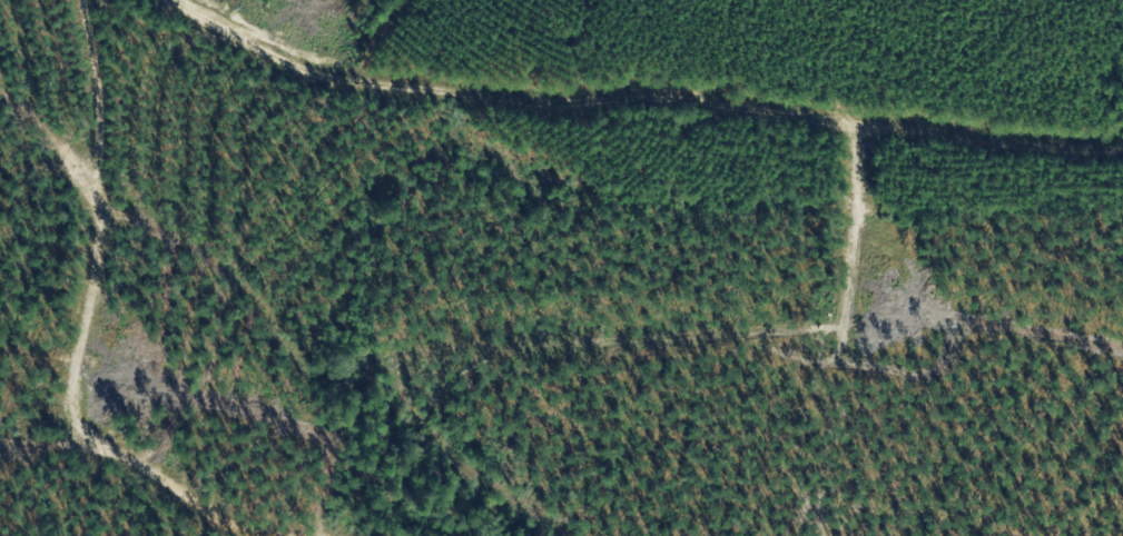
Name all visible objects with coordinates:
road: (638, 98)
road: (93, 315)

